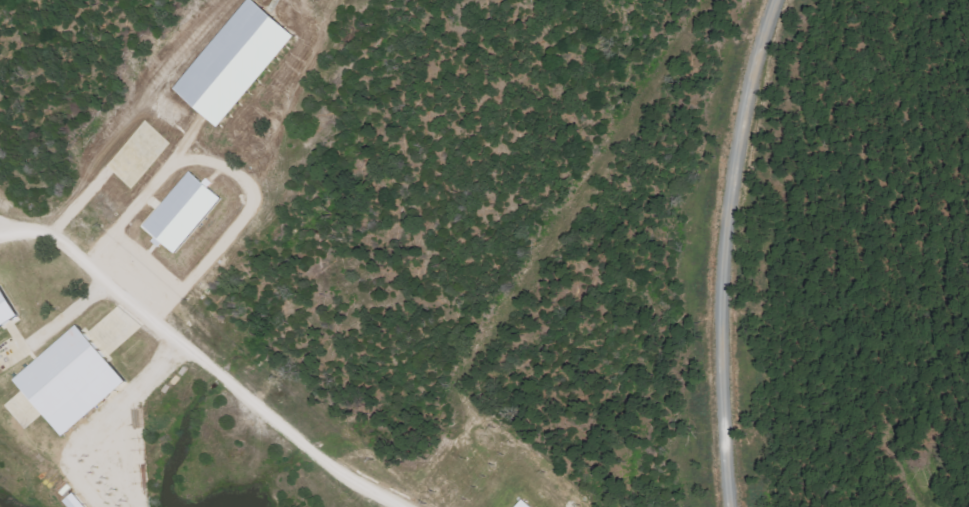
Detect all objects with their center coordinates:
building: (241, 64)
building: (186, 212)
road: (729, 251)
building: (8, 310)
road: (205, 355)
building: (76, 381)
building: (80, 501)
building: (528, 504)

